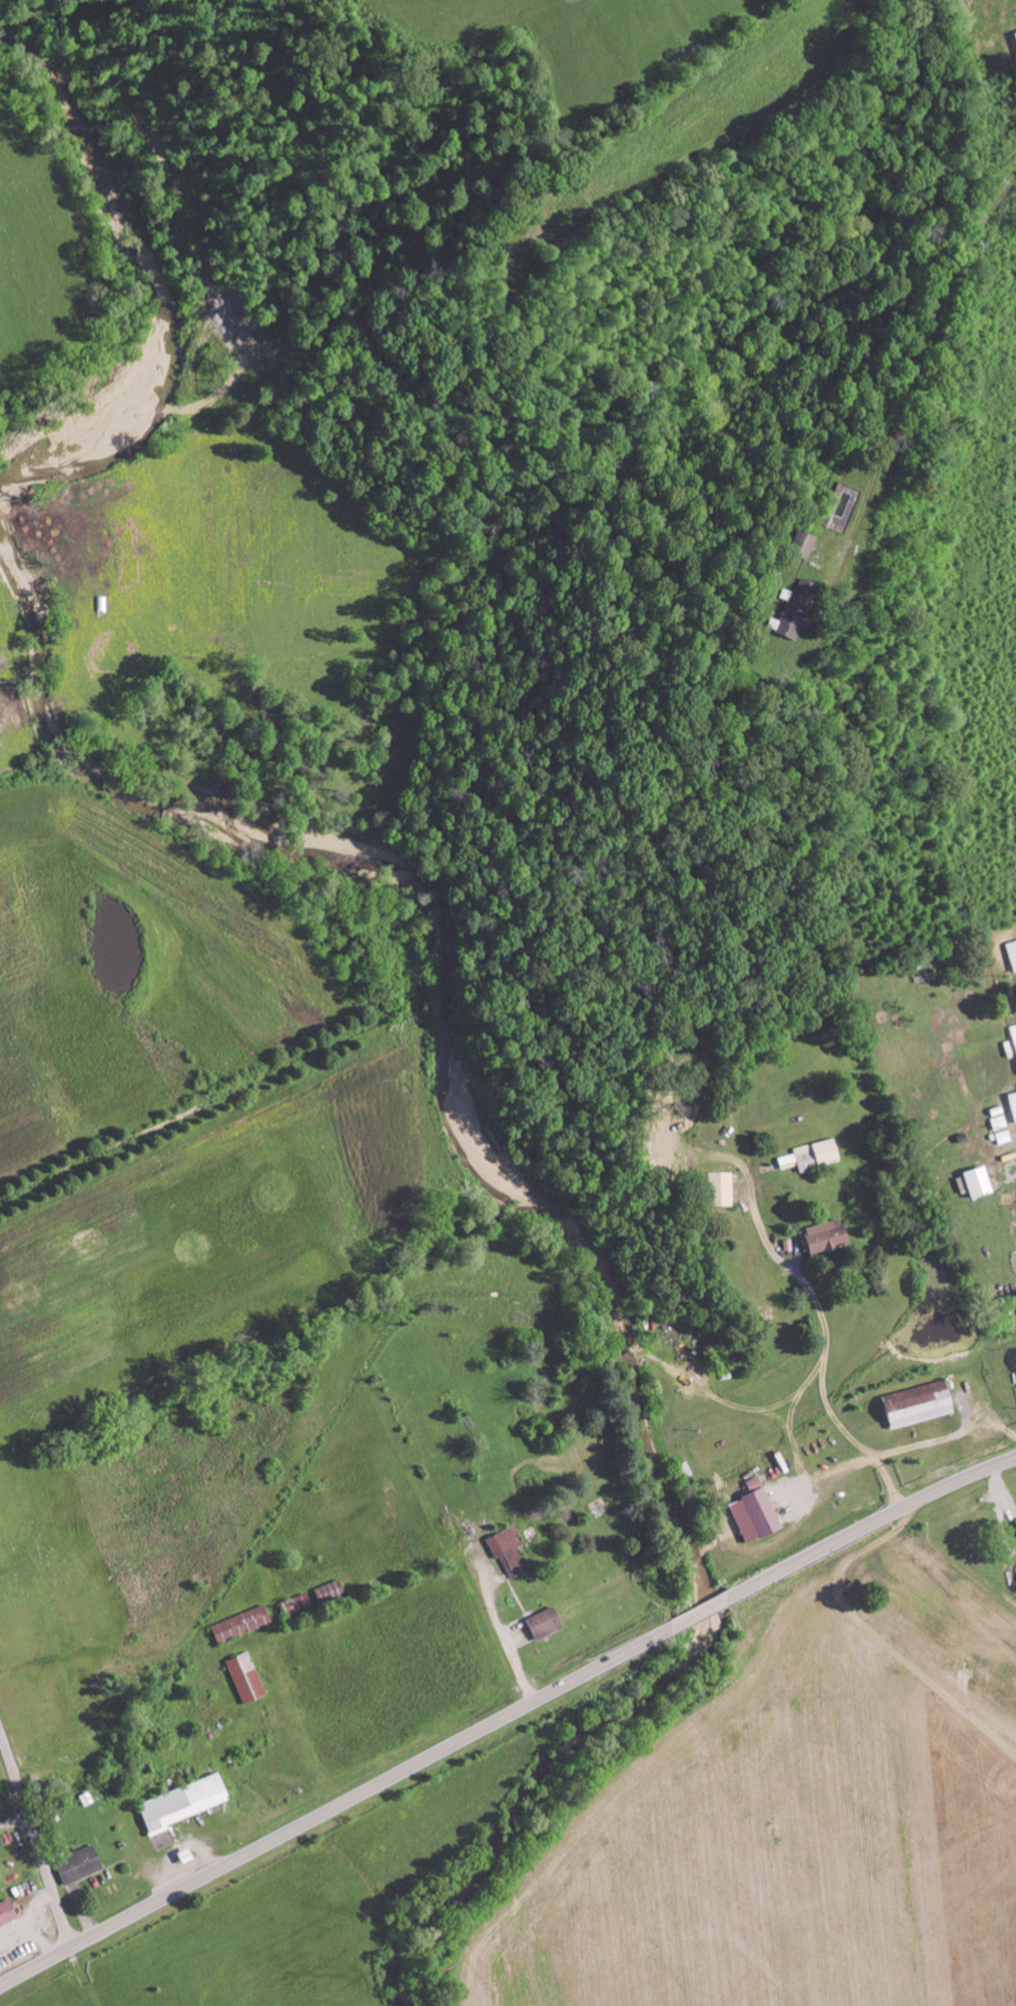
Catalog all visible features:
road: (895, 387)
building: (816, 544)
building: (812, 610)
building: (1013, 952)
building: (1015, 1030)
building: (1014, 1102)
building: (1000, 1118)
building: (1006, 1138)
building: (817, 1155)
building: (981, 1182)
building: (723, 1190)
building: (829, 1236)
building: (922, 1404)
building: (757, 1514)
building: (511, 1550)
building: (332, 1592)
building: (300, 1605)
building: (547, 1624)
building: (244, 1625)
building: (249, 1679)
road: (505, 1717)
road: (10, 1804)
building: (187, 1804)
road: (34, 1842)
building: (81, 1866)
building: (8, 1913)

